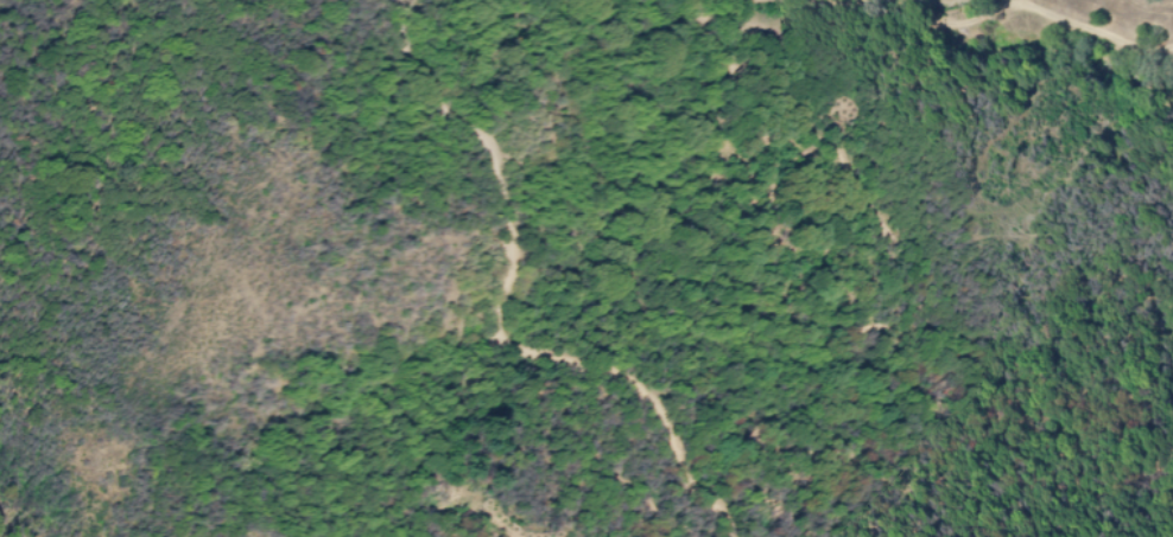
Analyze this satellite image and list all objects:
road: (1133, 6)
road: (502, 308)

